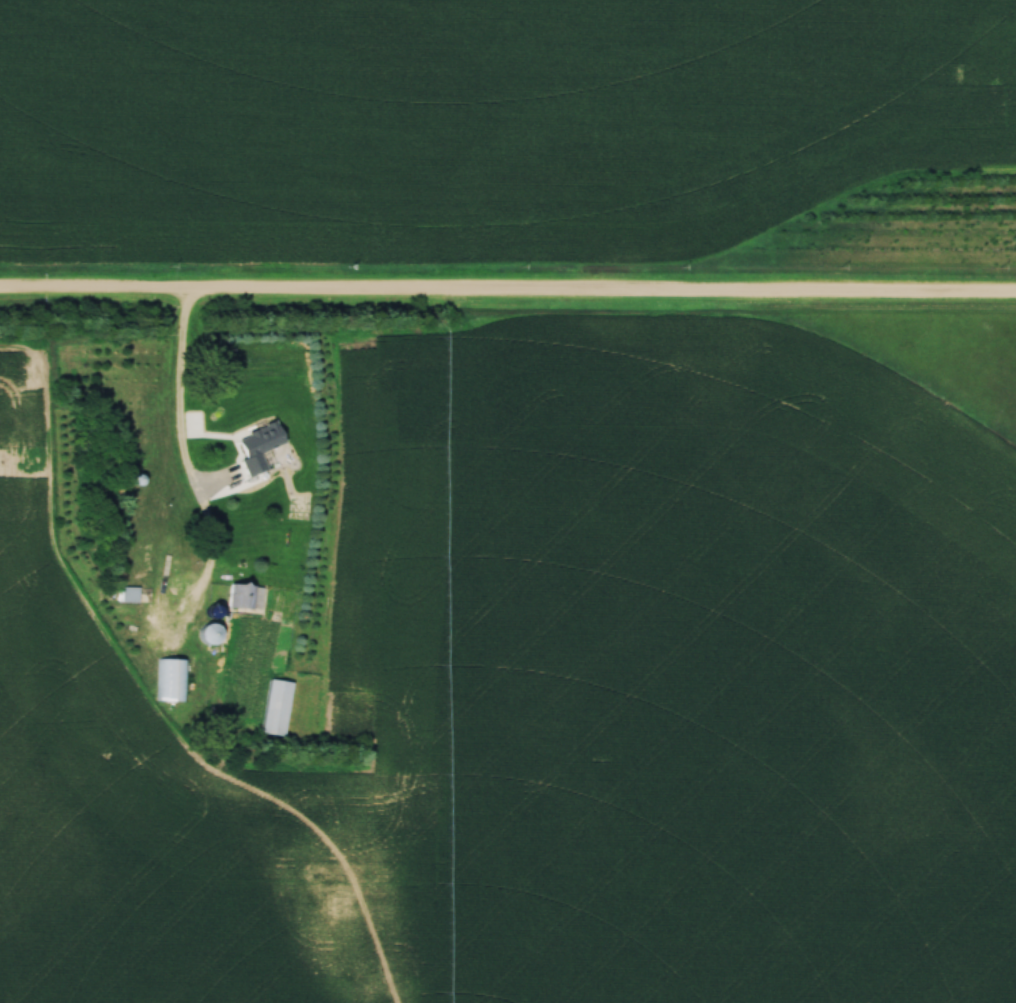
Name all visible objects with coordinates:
road: (508, 294)
building: (254, 446)
road: (190, 470)
building: (134, 596)
building: (245, 599)
building: (204, 635)
building: (171, 681)
building: (274, 709)

